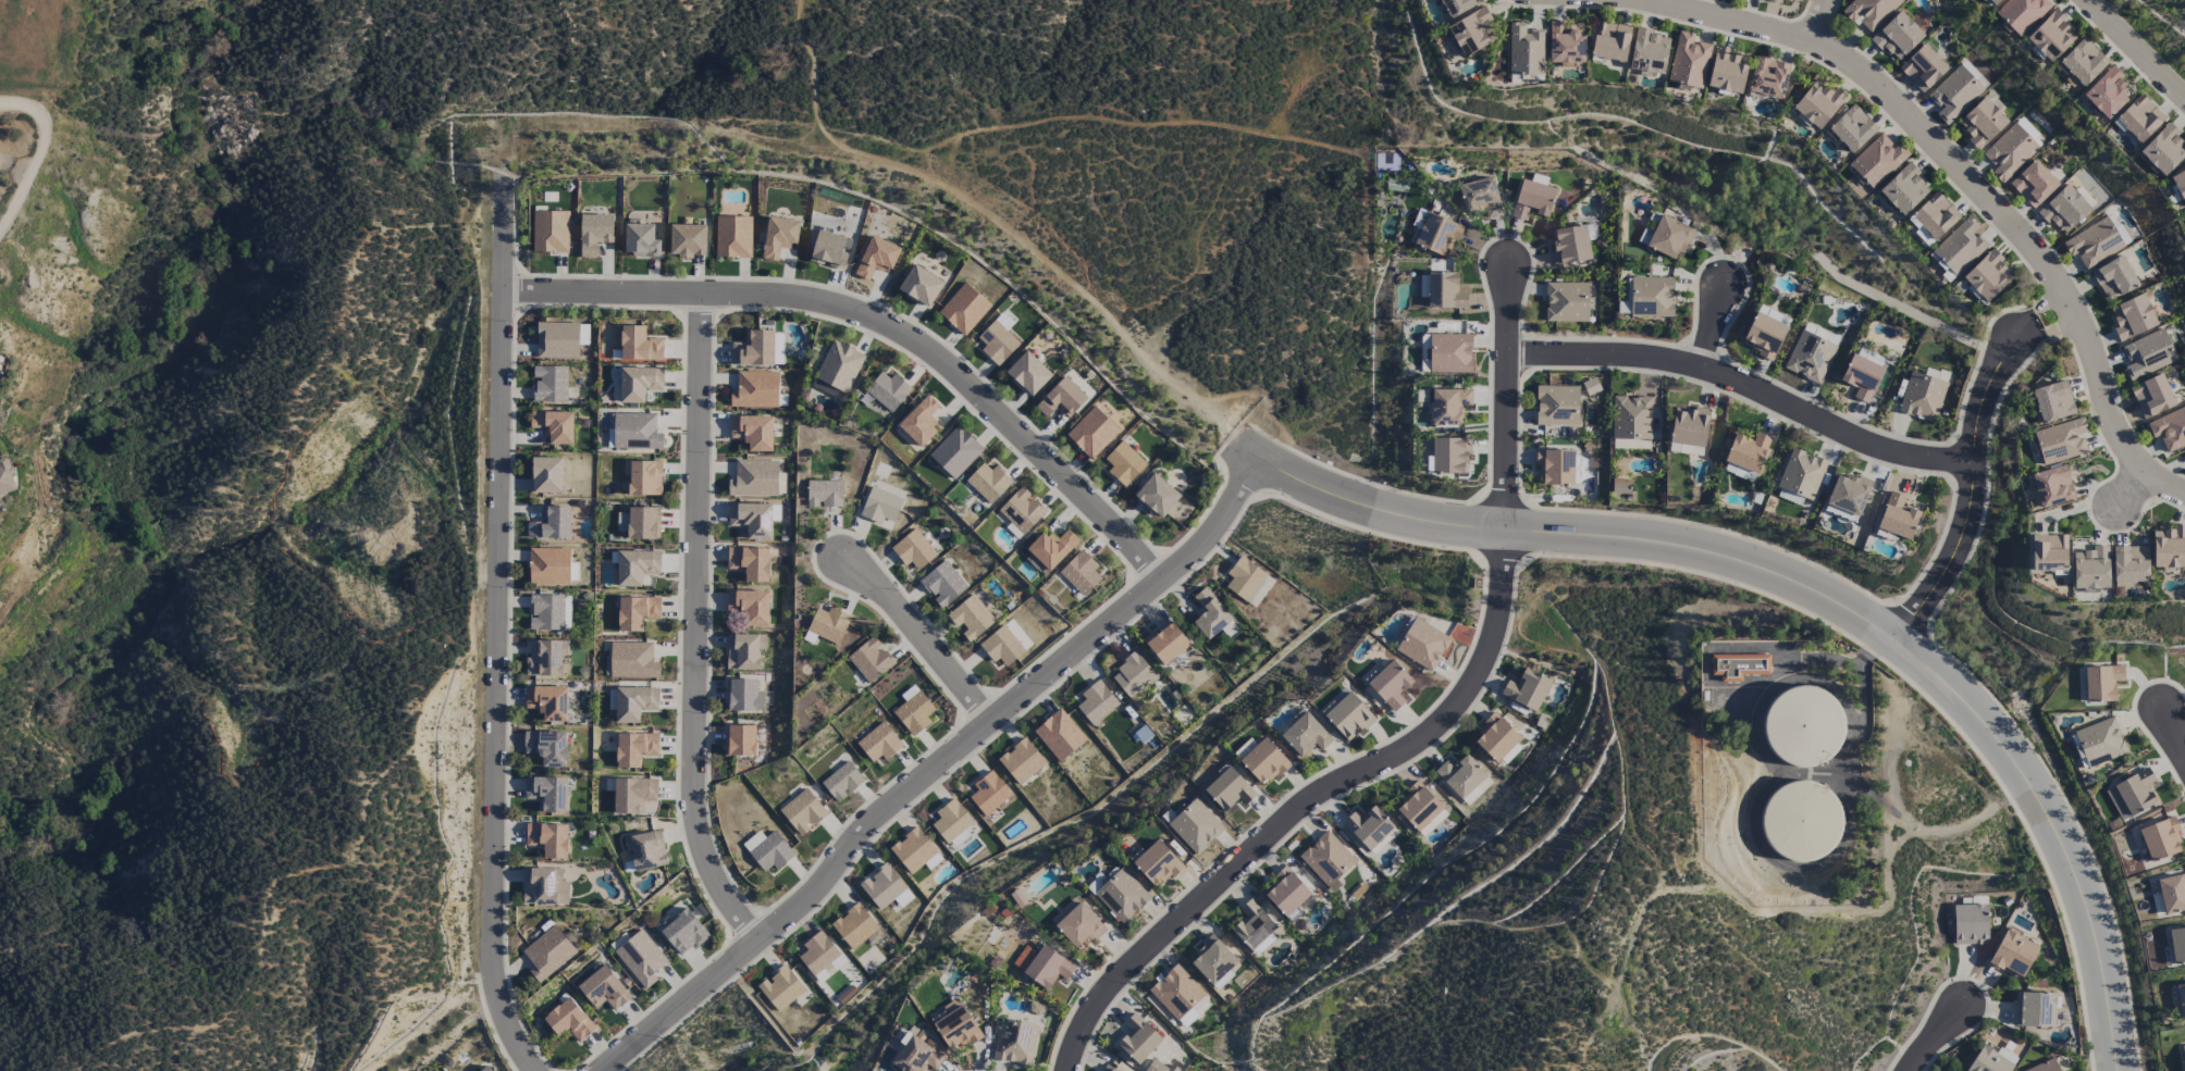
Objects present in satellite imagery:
building: (1741, 0)
building: (1775, 1)
building: (1795, 1)
building: (1991, 2)
building: (1457, 7)
building: (1869, 12)
building: (2021, 14)
road: (1816, 20)
building: (1471, 33)
building: (1897, 36)
building: (2051, 37)
building: (1610, 41)
building: (1565, 45)
building: (1526, 50)
road: (2135, 50)
building: (1647, 52)
building: (1688, 62)
building: (2083, 62)
building: (1923, 67)
building: (1727, 71)
building: (1974, 74)
building: (1768, 78)
building: (2106, 94)
building: (1953, 95)
building: (1817, 104)
road: (28, 108)
building: (2139, 119)
building: (1982, 123)
building: (1852, 129)
building: (2029, 132)
building: (2163, 150)
building: (2009, 152)
building: (1877, 161)
road: (38, 173)
road: (1965, 178)
building: (2033, 184)
building: (2178, 185)
building: (1903, 190)
building: (1480, 197)
building: (2084, 197)
building: (1532, 200)
building: (2064, 210)
building: (1931, 219)
road: (1032, 228)
building: (550, 232)
building: (594, 233)
building: (1436, 234)
building: (779, 236)
building: (732, 237)
building: (1669, 237)
building: (640, 240)
building: (688, 240)
building: (2094, 244)
building: (1569, 245)
building: (1960, 247)
building: (828, 249)
building: (877, 258)
building: (1987, 276)
building: (2113, 278)
building: (921, 286)
building: (1444, 291)
building: (1651, 297)
building: (1566, 302)
building: (963, 309)
building: (2132, 317)
road: (2048, 320)
road: (881, 324)
road: (1712, 331)
building: (1764, 335)
building: (557, 340)
building: (997, 343)
building: (639, 345)
building: (753, 350)
building: (1449, 353)
building: (2147, 354)
building: (1809, 358)
building: (839, 366)
building: (1028, 373)
building: (1861, 377)
building: (550, 384)
building: (639, 384)
building: (1591, 387)
road: (1745, 388)
building: (826, 389)
building: (755, 390)
building: (886, 391)
building: (2151, 396)
building: (1922, 397)
road: (1508, 398)
building: (1061, 399)
building: (2052, 401)
building: (1556, 406)
building: (1448, 407)
building: (1631, 418)
building: (919, 422)
building: (554, 426)
building: (1689, 426)
building: (2169, 428)
building: (635, 432)
building: (753, 432)
building: (1091, 433)
building: (2061, 441)
building: (1630, 444)
building: (955, 452)
building: (1746, 452)
building: (1449, 456)
building: (1123, 464)
building: (1556, 468)
building: (1739, 472)
building: (1801, 474)
building: (546, 475)
building: (7, 477)
building: (643, 478)
building: (754, 478)
building: (988, 483)
building: (1620, 485)
building: (2051, 487)
road: (1975, 491)
road: (2134, 491)
building: (824, 494)
building: (1848, 494)
building: (1156, 496)
building: (1789, 497)
building: (880, 506)
building: (1021, 510)
building: (1897, 518)
building: (751, 520)
building: (643, 523)
building: (551, 524)
building: (1051, 548)
building: (2169, 548)
building: (913, 550)
building: (2049, 552)
building: (750, 563)
building: (2130, 565)
building: (548, 566)
building: (635, 566)
building: (2090, 570)
building: (1079, 573)
building: (1247, 581)
building: (942, 584)
road: (1822, 596)
building: (749, 607)
building: (550, 612)
building: (637, 612)
building: (1209, 614)
building: (970, 618)
building: (828, 625)
road: (699, 630)
road: (499, 632)
road: (919, 635)
building: (1165, 644)
building: (1423, 645)
building: (1001, 647)
building: (744, 651)
building: (546, 658)
building: (632, 660)
building: (871, 660)
building: (1739, 667)
building: (1133, 676)
building: (2101, 683)
building: (1390, 685)
building: (1527, 689)
building: (744, 696)
building: (547, 702)
building: (1096, 702)
building: (634, 703)
building: (913, 711)
building: (1348, 717)
building: (1802, 726)
building: (1059, 735)
building: (1305, 736)
road: (2173, 736)
building: (1496, 738)
building: (741, 740)
building: (2097, 743)
building: (879, 744)
building: (546, 747)
building: (634, 749)
building: (1021, 762)
building: (1263, 762)
road: (933, 768)
building: (1460, 775)
building: (842, 782)
building: (1229, 789)
building: (546, 794)
building: (988, 794)
building: (2131, 795)
building: (634, 796)
road: (1309, 802)
building: (1417, 807)
building: (802, 812)
building: (951, 821)
building: (1800, 822)
building: (1432, 823)
building: (1195, 826)
building: (1368, 827)
building: (548, 839)
building: (2160, 839)
building: (645, 850)
building: (767, 850)
building: (915, 851)
building: (1326, 860)
building: (1157, 863)
building: (544, 887)
building: (885, 888)
building: (2172, 893)
building: (1286, 894)
building: (1121, 896)
building: (1076, 924)
building: (1970, 924)
building: (1252, 925)
building: (854, 926)
building: (682, 931)
building: (2177, 945)
building: (547, 954)
building: (2012, 955)
building: (820, 957)
building: (641, 958)
building: (1212, 960)
building: (1047, 968)
building: (780, 988)
building: (604, 989)
building: (1176, 992)
building: (2181, 1000)
building: (2034, 1010)
building: (1188, 1018)
building: (568, 1020)
building: (956, 1029)
building: (1137, 1039)
road: (1934, 1039)
building: (1014, 1042)
building: (2183, 1055)
building: (916, 1057)
building: (1991, 1060)
building: (1160, 1067)
building: (2045, 1067)
building: (1115, 1068)
building: (485, 1069)

